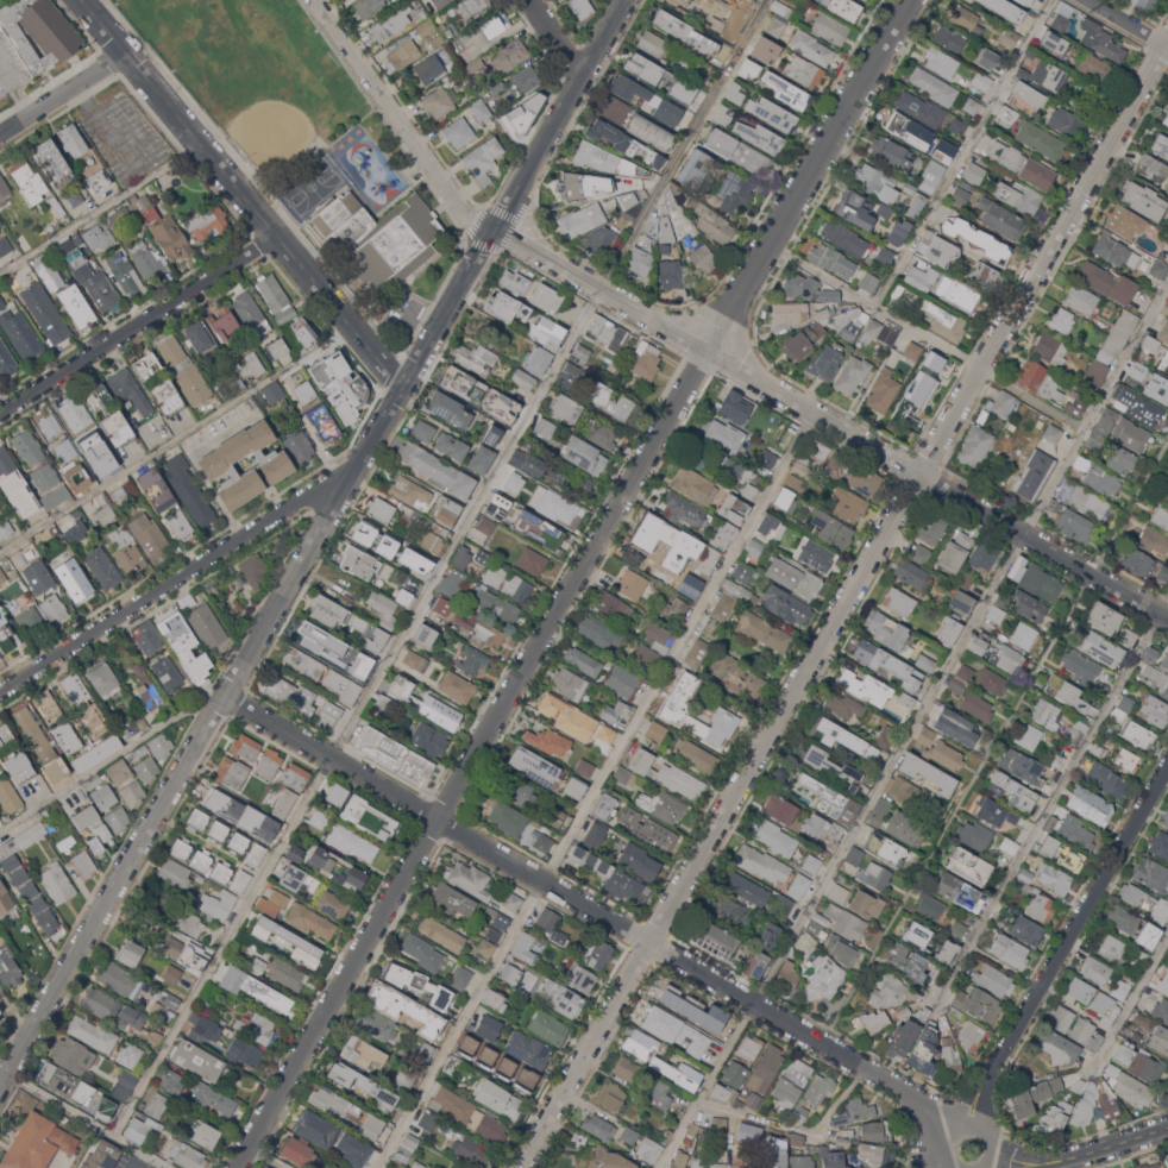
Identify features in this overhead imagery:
building: (400, 0)
building: (1025, 1)
building: (439, 2)
building: (1144, 4)
building: (368, 7)
building: (580, 7)
building: (843, 7)
building: (466, 8)
building: (781, 8)
building: (1004, 10)
building: (739, 11)
building: (420, 17)
building: (962, 17)
building: (715, 20)
building: (1061, 21)
road: (1129, 21)
building: (390, 23)
building: (775, 25)
building: (829, 29)
building: (448, 31)
building: (38, 32)
building: (684, 32)
building: (429, 33)
building: (478, 33)
building: (1009, 37)
road: (554, 38)
building: (948, 38)
building: (1101, 40)
building: (652, 43)
building: (1054, 44)
building: (766, 45)
building: (811, 46)
building: (1031, 54)
building: (401, 55)
building: (510, 55)
building: (987, 58)
building: (941, 62)
building: (476, 64)
building: (685, 64)
building: (1095, 67)
building: (643, 68)
building: (426, 69)
building: (710, 69)
building: (748, 69)
building: (802, 71)
building: (1022, 73)
building: (1049, 76)
building: (527, 79)
building: (981, 81)
building: (497, 86)
building: (932, 86)
building: (628, 89)
road: (17, 90)
building: (785, 90)
road: (63, 93)
building: (734, 93)
building: (680, 94)
building: (1025, 98)
building: (440, 101)
building: (1054, 101)
building: (971, 105)
building: (921, 108)
building: (481, 109)
building: (614, 109)
building: (667, 112)
road: (558, 113)
building: (721, 114)
building: (773, 114)
building: (520, 118)
building: (1166, 118)
road: (401, 119)
building: (1068, 121)
building: (899, 125)
building: (957, 126)
building: (651, 131)
building: (459, 132)
building: (1032, 134)
building: (759, 136)
building: (73, 139)
park: (313, 144)
building: (950, 145)
building: (1160, 145)
building: (630, 146)
building: (888, 151)
building: (737, 152)
road: (962, 153)
building: (942, 158)
building: (49, 159)
building: (483, 159)
building: (605, 159)
building: (654, 159)
building: (1023, 164)
building: (1150, 165)
building: (696, 171)
building: (974, 172)
building: (932, 174)
building: (29, 181)
building: (98, 182)
building: (877, 182)
building: (611, 184)
building: (966, 184)
building: (4, 187)
building: (636, 187)
building: (588, 188)
building: (1167, 189)
road: (243, 190)
building: (734, 191)
building: (916, 193)
building: (960, 195)
building: (75, 197)
building: (1018, 197)
building: (628, 200)
building: (1143, 200)
building: (56, 205)
road: (101, 208)
building: (884, 211)
building: (632, 212)
building: (853, 214)
building: (915, 214)
building: (679, 215)
building: (136, 216)
building: (998, 218)
building: (119, 219)
building: (582, 219)
building: (207, 221)
building: (1123, 221)
building: (0, 222)
building: (665, 224)
building: (712, 224)
building: (952, 224)
building: (652, 226)
building: (162, 227)
building: (897, 231)
building: (99, 237)
building: (379, 237)
building: (846, 238)
building: (599, 240)
building: (1167, 240)
building: (77, 241)
building: (888, 241)
building: (4, 246)
building: (987, 246)
building: (937, 247)
building: (1113, 250)
building: (885, 255)
building: (1160, 256)
building: (703, 257)
building: (831, 259)
building: (147, 260)
building: (639, 260)
building: (80, 266)
building: (1158, 269)
building: (124, 272)
building: (49, 274)
building: (670, 274)
building: (985, 275)
building: (921, 277)
building: (515, 281)
building: (868, 282)
building: (1107, 282)
building: (799, 285)
building: (950, 289)
building: (272, 293)
building: (103, 295)
building: (828, 295)
building: (546, 297)
building: (1080, 299)
building: (1, 302)
road: (447, 304)
building: (76, 306)
building: (505, 306)
building: (1164, 307)
building: (45, 312)
building: (789, 312)
building: (823, 313)
building: (251, 314)
building: (284, 314)
building: (844, 316)
building: (862, 316)
building: (1062, 320)
building: (222, 321)
road: (139, 324)
building: (1124, 325)
building: (948, 326)
building: (872, 329)
building: (607, 331)
building: (849, 331)
building: (302, 332)
building: (1163, 332)
building: (547, 333)
building: (21, 334)
building: (887, 335)
building: (196, 337)
road: (928, 337)
building: (802, 341)
building: (1149, 344)
building: (277, 347)
building: (1049, 348)
building: (1109, 348)
building: (582, 351)
building: (911, 351)
building: (473, 358)
building: (538, 359)
building: (6, 360)
building: (646, 360)
building: (932, 362)
building: (1164, 362)
building: (823, 363)
building: (146, 365)
building: (251, 365)
building: (183, 369)
building: (1137, 370)
building: (852, 373)
building: (1093, 375)
building: (608, 376)
building: (571, 377)
building: (295, 378)
building: (522, 378)
building: (621, 378)
building: (635, 379)
building: (1040, 379)
building: (239, 383)
building: (340, 385)
building: (466, 385)
building: (511, 388)
building: (1158, 389)
building: (128, 390)
building: (883, 390)
building: (272, 391)
building: (310, 395)
building: (167, 397)
building: (913, 398)
building: (609, 400)
building: (260, 401)
building: (1003, 402)
building: (1075, 403)
building: (127, 406)
building: (509, 406)
building: (736, 406)
building: (1137, 407)
building: (566, 408)
building: (450, 409)
building: (76, 414)
building: (982, 415)
building: (109, 416)
road: (830, 421)
building: (1105, 421)
building: (324, 422)
building: (50, 426)
building: (544, 427)
building: (423, 429)
building: (774, 429)
building: (494, 433)
building: (1053, 433)
building: (603, 434)
building: (1129, 434)
building: (724, 435)
building: (1095, 439)
road: (176, 440)
building: (527, 444)
building: (974, 445)
building: (27, 446)
building: (299, 446)
building: (451, 446)
building: (816, 448)
building: (65, 450)
building: (96, 452)
building: (582, 454)
building: (1007, 454)
road: (189, 456)
building: (767, 458)
building: (1119, 458)
building: (481, 459)
building: (804, 460)
building: (6, 461)
building: (528, 463)
building: (1081, 463)
building: (1099, 463)
building: (274, 465)
building: (835, 467)
building: (437, 469)
building: (799, 469)
building: (559, 470)
building: (1034, 473)
building: (736, 475)
building: (45, 476)
building: (77, 477)
building: (864, 479)
building: (1101, 479)
building: (514, 483)
building: (695, 484)
building: (796, 485)
building: (580, 486)
building: (188, 490)
building: (408, 490)
building: (1166, 492)
building: (119, 495)
building: (56, 497)
building: (1059, 497)
building: (785, 498)
building: (164, 501)
building: (1087, 501)
building: (848, 504)
building: (1054, 504)
building: (496, 507)
building: (557, 507)
building: (733, 507)
building: (38, 508)
building: (381, 509)
building: (682, 509)
building: (445, 510)
building: (106, 511)
building: (1161, 515)
building: (63, 520)
building: (421, 520)
building: (791, 520)
building: (1074, 525)
building: (485, 526)
building: (768, 527)
building: (5, 528)
building: (536, 528)
building: (930, 528)
building: (830, 529)
building: (76, 530)
building: (666, 534)
building: (119, 535)
building: (149, 535)
building: (723, 535)
building: (1153, 539)
building: (432, 541)
building: (390, 546)
building: (753, 547)
building: (67, 551)
building: (954, 552)
building: (272, 553)
building: (921, 553)
building: (815, 555)
building: (982, 555)
building: (461, 557)
building: (483, 557)
building: (131, 559)
building: (532, 560)
building: (709, 560)
building: (359, 561)
building: (1138, 563)
building: (102, 567)
road: (438, 567)
building: (1017, 567)
building: (253, 570)
building: (742, 572)
building: (1163, 572)
building: (912, 573)
building: (38, 576)
building: (495, 576)
building: (2, 577)
building: (233, 577)
building: (793, 577)
building: (962, 580)
building: (451, 582)
building: (1040, 582)
building: (73, 583)
road: (571, 583)
road: (164, 584)
building: (630, 584)
building: (517, 588)
building: (736, 589)
building: (406, 597)
building: (187, 599)
building: (961, 599)
building: (1003, 599)
building: (609, 602)
building: (899, 602)
road: (841, 603)
building: (497, 604)
building: (723, 604)
building: (785, 604)
building: (442, 605)
building: (678, 605)
building: (1029, 605)
building: (54, 607)
building: (383, 609)
building: (328, 610)
building: (996, 614)
building: (1103, 617)
building: (31, 621)
building: (207, 624)
building: (712, 626)
building: (481, 629)
building: (885, 629)
building: (599, 630)
building: (761, 630)
building: (949, 630)
building: (7, 634)
building: (447, 634)
building: (425, 635)
building: (707, 635)
building: (1023, 635)
building: (659, 636)
building: (1126, 636)
building: (149, 638)
building: (375, 639)
building: (320, 642)
building: (979, 642)
building: (184, 646)
building: (1099, 647)
building: (697, 653)
building: (651, 654)
building: (1151, 654)
building: (1167, 654)
building: (0, 657)
building: (1007, 658)
building: (472, 659)
building: (415, 660)
building: (583, 660)
building: (303, 661)
building: (885, 663)
building: (925, 663)
building: (359, 664)
building: (1166, 665)
building: (1080, 666)
building: (963, 672)
building: (167, 673)
building: (736, 674)
building: (102, 679)
building: (396, 679)
building: (991, 679)
building: (1156, 679)
building: (621, 680)
building: (569, 683)
building: (956, 685)
building: (341, 686)
building: (457, 686)
building: (865, 686)
building: (75, 687)
building: (1100, 687)
building: (149, 690)
building: (403, 692)
building: (683, 692)
building: (1063, 693)
building: (291, 695)
building: (905, 699)
building: (383, 702)
building: (1126, 703)
building: (844, 704)
building: (975, 704)
building: (48, 705)
building: (673, 709)
building: (615, 710)
building: (1154, 710)
building: (440, 711)
building: (328, 714)
building: (1118, 714)
building: (1050, 715)
building: (567, 716)
building: (95, 718)
building: (142, 722)
road: (910, 726)
building: (955, 726)
road: (200, 728)
building: (1078, 729)
building: (710, 730)
building: (125, 731)
building: (654, 731)
building: (6, 733)
building: (1028, 735)
building: (1139, 735)
building: (67, 736)
building: (604, 736)
building: (885, 736)
building: (428, 739)
building: (843, 740)
road: (994, 740)
building: (548, 741)
building: (1, 743)
building: (40, 745)
building: (161, 746)
building: (246, 746)
park: (993, 748)
building: (938, 749)
building: (1099, 749)
building: (139, 751)
building: (96, 753)
building: (393, 753)
building: (696, 755)
road: (108, 758)
building: (1056, 759)
building: (1126, 759)
building: (269, 762)
building: (19, 766)
building: (534, 766)
building: (584, 766)
building: (829, 766)
building: (1021, 766)
building: (147, 768)
building: (120, 772)
building: (232, 772)
building: (295, 774)
building: (666, 774)
building: (928, 774)
building: (624, 775)
building: (1105, 779)
building: (898, 786)
building: (574, 787)
road: (594, 789)
building: (1010, 790)
building: (519, 791)
building: (100, 792)
building: (333, 792)
building: (133, 793)
building: (10, 796)
building: (218, 797)
building: (486, 797)
road: (1054, 797)
building: (834, 802)
building: (284, 803)
building: (604, 805)
building: (663, 805)
building: (1091, 805)
building: (779, 808)
building: (993, 811)
building: (44, 812)
building: (879, 812)
building: (555, 816)
building: (1166, 816)
building: (118, 818)
building: (197, 818)
building: (319, 818)
building: (364, 818)
building: (6, 820)
building: (510, 820)
building: (48, 821)
building: (1050, 823)
building: (815, 824)
building: (93, 827)
building: (258, 827)
building: (648, 828)
building: (905, 828)
building: (218, 830)
building: (1075, 831)
building: (29, 835)
building: (299, 835)
building: (595, 835)
building: (975, 835)
building: (774, 836)
building: (238, 842)
building: (351, 842)
building: (542, 842)
building: (1160, 844)
building: (1009, 846)
building: (181, 848)
building: (885, 848)
building: (295, 853)
building: (320, 853)
building: (1062, 853)
building: (8, 854)
building: (256, 854)
building: (854, 856)
building: (638, 860)
building: (761, 862)
building: (811, 864)
building: (84, 865)
building: (968, 865)
building: (211, 866)
building: (351, 873)
building: (175, 874)
building: (609, 874)
building: (1151, 874)
building: (19, 875)
building: (878, 875)
building: (1025, 875)
building: (1054, 877)
building: (297, 878)
building: (199, 879)
building: (470, 880)
building: (240, 881)
building: (57, 883)
building: (798, 885)
building: (746, 887)
building: (1023, 887)
building: (29, 891)
building: (957, 891)
building: (1131, 892)
building: (839, 893)
building: (451, 899)
building: (511, 900)
building: (272, 902)
building: (784, 903)
building: (37, 904)
building: (216, 904)
building: (332, 904)
building: (866, 904)
building: (930, 906)
road: (588, 908)
building: (1041, 908)
building: (1006, 910)
building: (730, 911)
building: (11, 912)
building: (1160, 912)
building: (498, 918)
building: (821, 918)
building: (1123, 919)
building: (48, 921)
building: (310, 921)
building: (188, 922)
building: (846, 922)
building: (550, 924)
building: (814, 927)
building: (957, 929)
building: (1025, 930)
building: (440, 932)
building: (767, 935)
building: (918, 935)
building: (1147, 935)
building: (714, 940)
building: (288, 941)
building: (810, 943)
road: (1069, 943)
building: (1111, 946)
building: (485, 947)
road: (972, 947)
building: (841, 948)
building: (946, 950)
building: (1010, 950)
building: (422, 952)
building: (130, 953)
building: (188, 953)
building: (599, 954)
building: (1139, 954)
building: (519, 959)
building: (909, 961)
building: (754, 962)
building: (8, 966)
building: (258, 966)
building: (1095, 969)
building: (288, 973)
building: (172, 974)
building: (404, 977)
building: (580, 977)
building: (118, 978)
building: (460, 978)
building: (786, 978)
building: (823, 978)
building: (994, 980)
building: (526, 981)
building: (1163, 982)
building: (1122, 987)
building: (253, 988)
building: (888, 991)
building: (1082, 991)
building: (168, 998)
building: (427, 998)
building: (560, 998)
building: (494, 1000)
building: (682, 1000)
building: (389, 1001)
building: (450, 1001)
building: (978, 1004)
building: (1105, 1006)
building: (112, 1009)
building: (158, 1010)
building: (1161, 1010)
building: (903, 1012)
building: (924, 1013)
building: (957, 1015)
road: (1123, 1015)
building: (1061, 1018)
building: (0, 1019)
building: (1142, 1019)
building: (874, 1021)
building: (373, 1023)
building: (203, 1026)
building: (488, 1026)
building: (547, 1026)
building: (720, 1026)
building: (257, 1028)
building: (674, 1031)
building: (1135, 1031)
building: (437, 1032)
building: (93, 1034)
building: (1086, 1034)
building: (971, 1035)
building: (902, 1037)
building: (1158, 1038)
building: (466, 1044)
building: (639, 1044)
building: (749, 1047)
building: (1056, 1047)
building: (948, 1048)
building: (528, 1049)
building: (923, 1049)
building: (244, 1051)
building: (362, 1053)
building: (70, 1055)
building: (130, 1056)
building: (422, 1056)
building: (485, 1056)
building: (197, 1060)
building: (1138, 1063)
building: (452, 1066)
building: (504, 1067)
building: (766, 1068)
building: (628, 1069)
building: (1111, 1072)
building: (678, 1073)
building: (1049, 1075)
building: (406, 1076)
building: (523, 1079)
building: (127, 1080)
building: (172, 1081)
building: (67, 1082)
building: (729, 1082)
building: (791, 1082)
building: (155, 1084)
building: (360, 1085)
building: (1079, 1085)
building: (820, 1088)
building: (1132, 1089)
building: (658, 1092)
building: (610, 1095)
building: (1032, 1097)
building: (212, 1098)
building: (748, 1098)
building: (500, 1099)
building: (1106, 1099)
park: (1161, 1101)
building: (1085, 1104)
building: (157, 1105)
building: (103, 1109)
building: (347, 1111)
building: (799, 1111)
building: (854, 1111)
building: (470, 1114)
building: (1054, 1117)
road: (84, 1119)
building: (428, 1120)
building: (309, 1122)
road: (971, 1122)
road: (1164, 1124)
building: (720, 1125)
building: (598, 1126)
road: (796, 1128)
building: (692, 1129)
building: (137, 1130)
building: (875, 1131)
building: (847, 1132)
building: (203, 1134)
building: (629, 1134)
building: (704, 1134)
building: (666, 1135)
building: (772, 1135)
building: (797, 1138)
building: (435, 1142)
building: (846, 1142)
building: (37, 1143)
building: (353, 1148)
building: (410, 1148)
building: (651, 1149)
park: (971, 1149)
building: (297, 1150)
building: (471, 1151)
building: (868, 1153)
road: (1084, 1154)
building: (102, 1155)
building: (187, 1156)
road: (266, 1157)
building: (599, 1157)
building: (887, 1157)
building: (830, 1158)
building: (679, 1160)
building: (698, 1161)
building: (800, 1161)
building: (1166, 1161)
building: (416, 1164)
building: (720, 1164)
building: (774, 1164)
building: (1150, 1164)
building: (265, 1166)
building: (394, 1167)
building: (401, 1167)
building: (456, 1167)
building: (858, 1167)
building: (1131, 1167)

